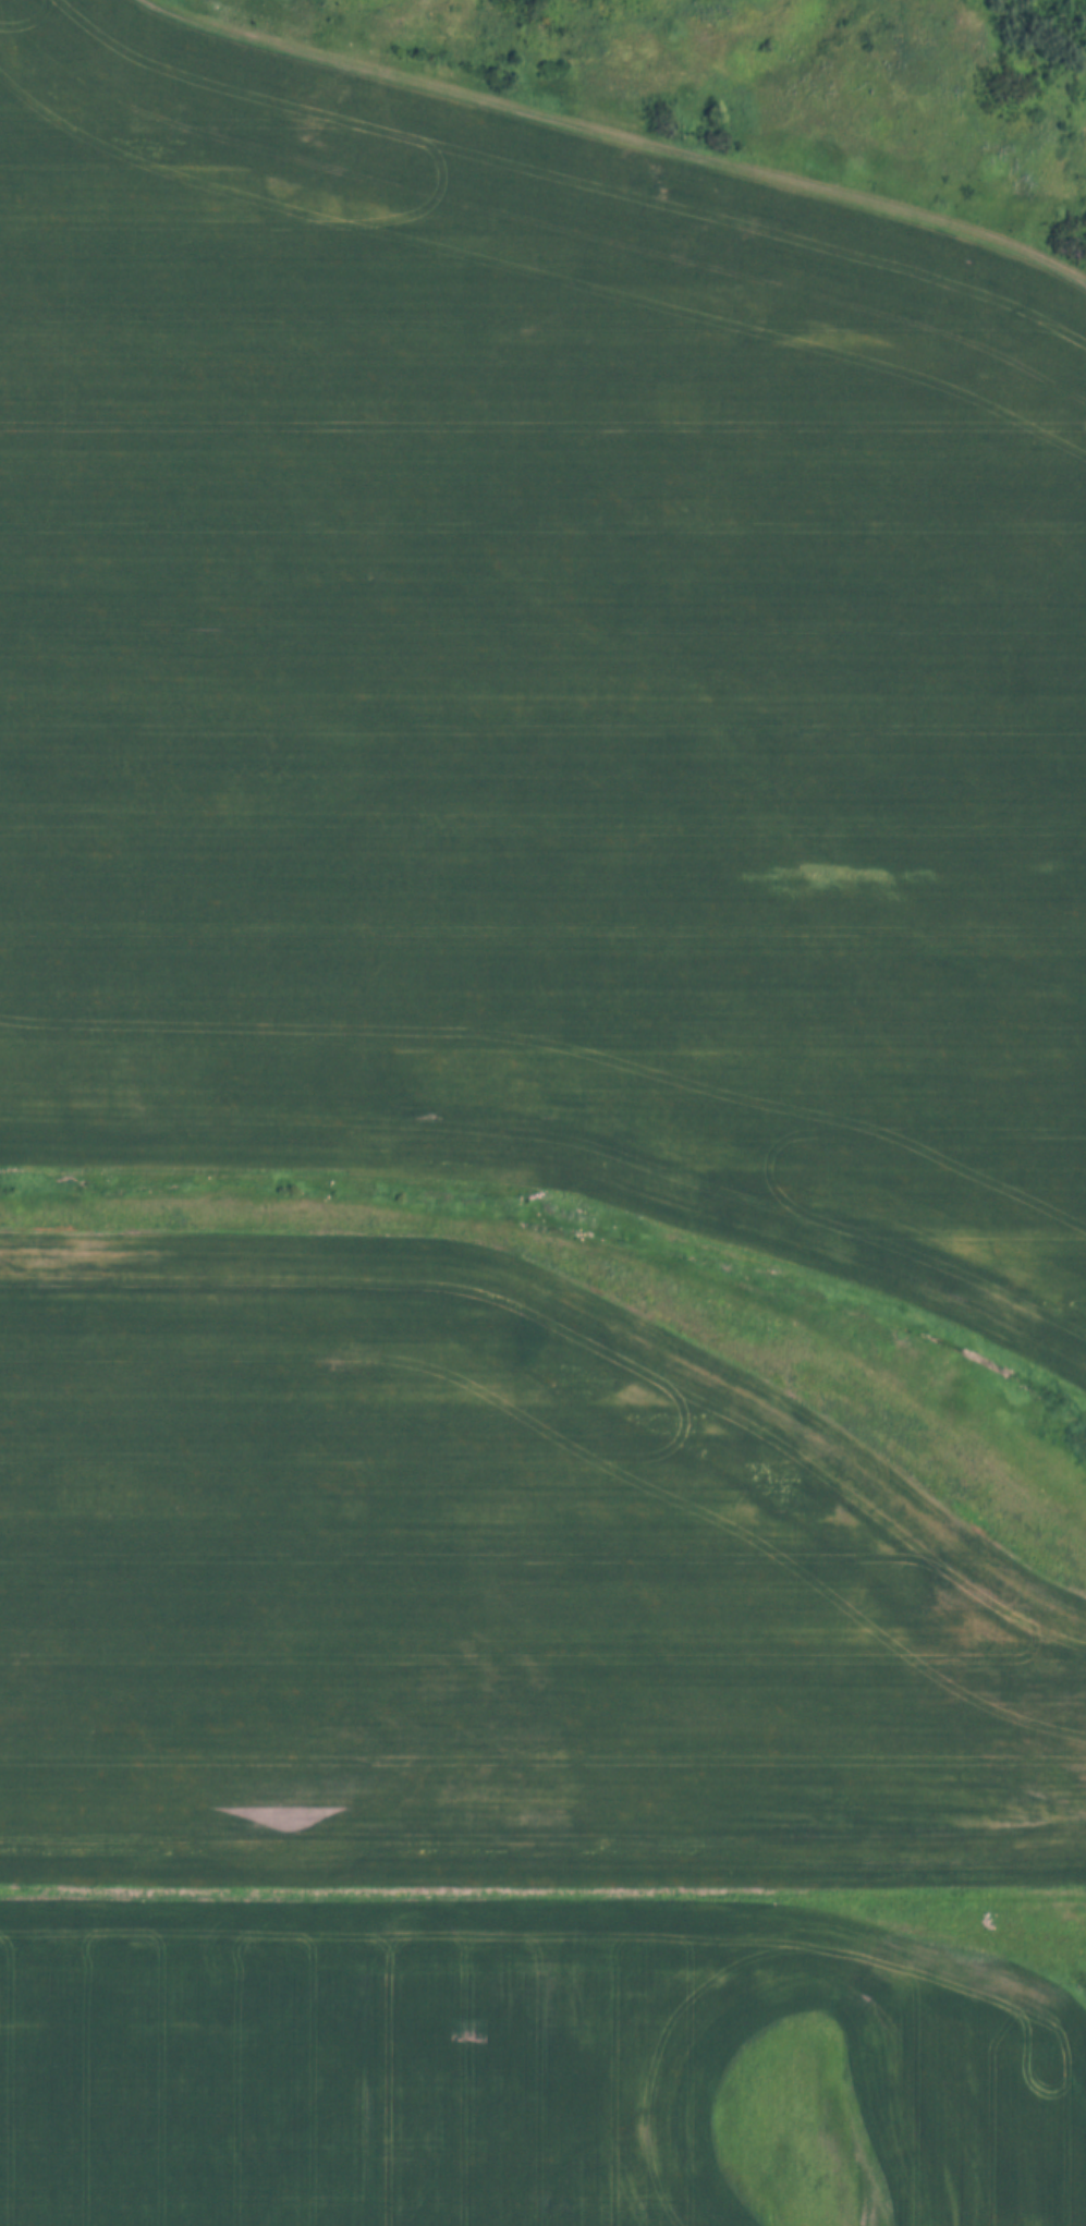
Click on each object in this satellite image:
road: (635, 124)

